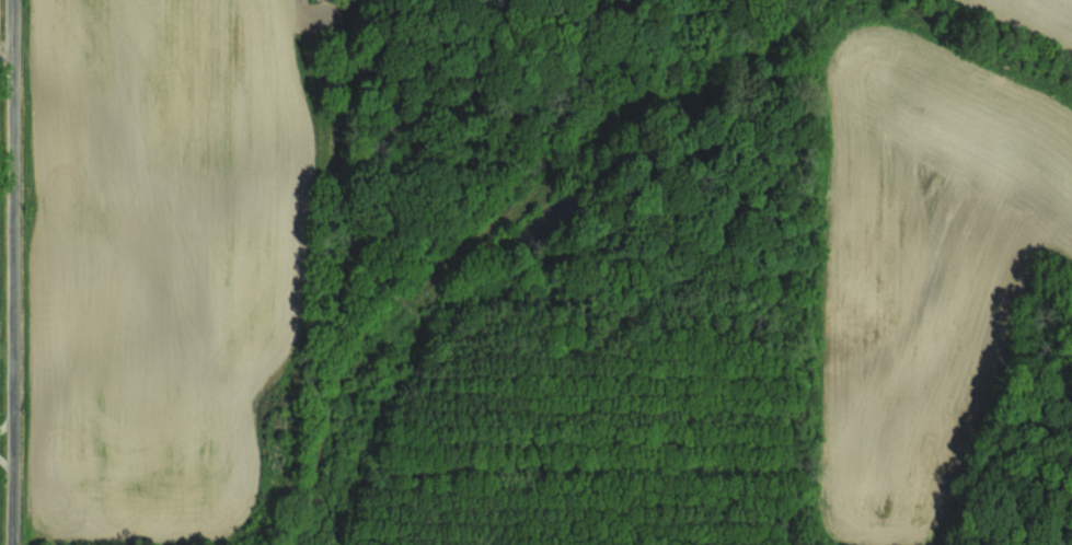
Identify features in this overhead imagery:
road: (13, 272)

